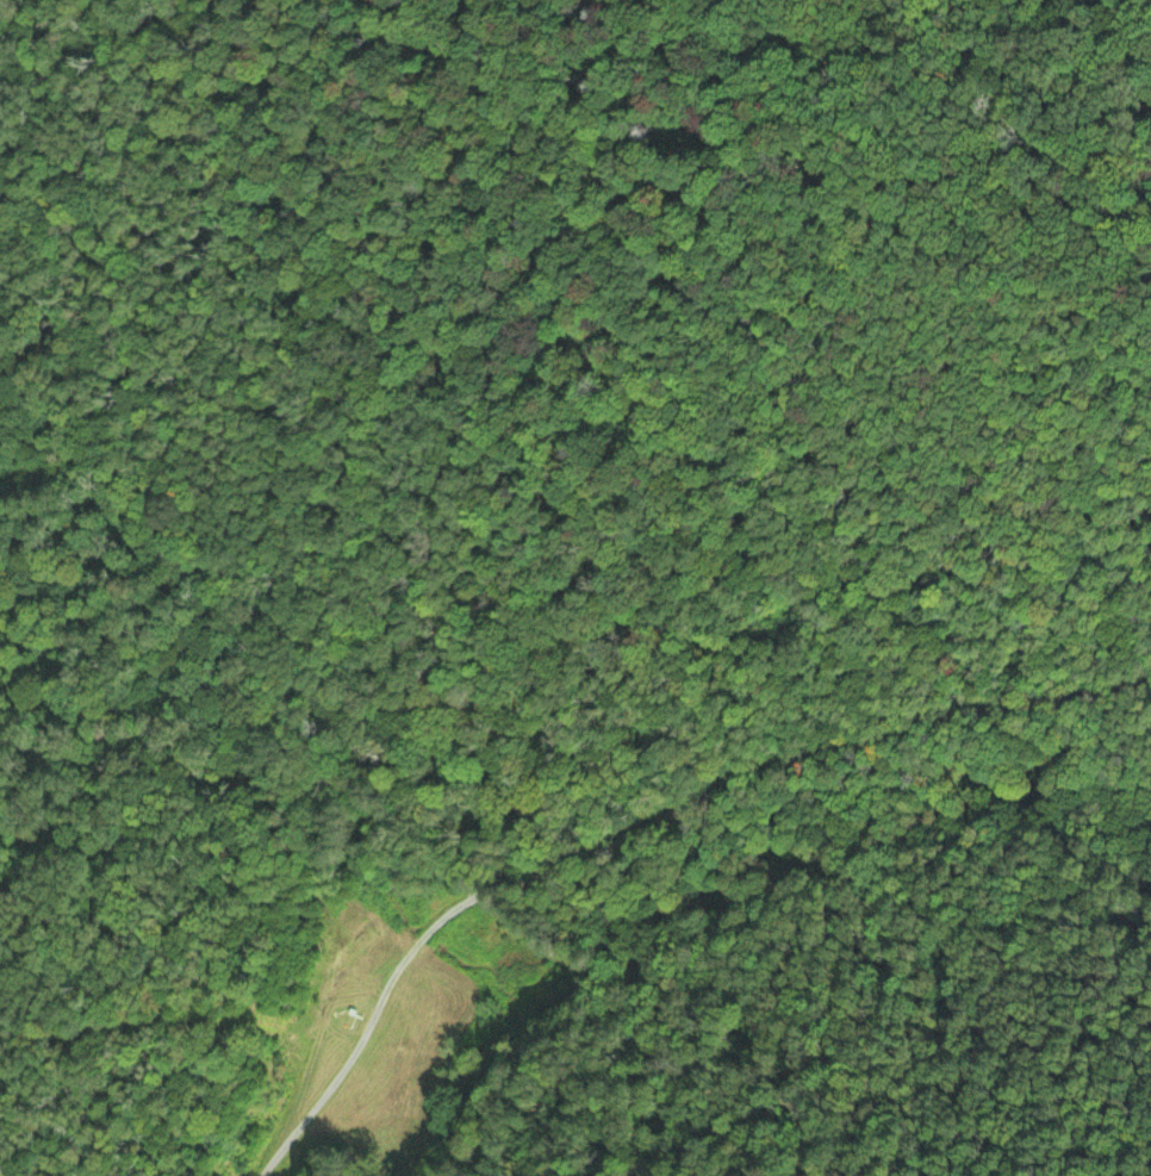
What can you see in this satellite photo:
road: (636, 825)

